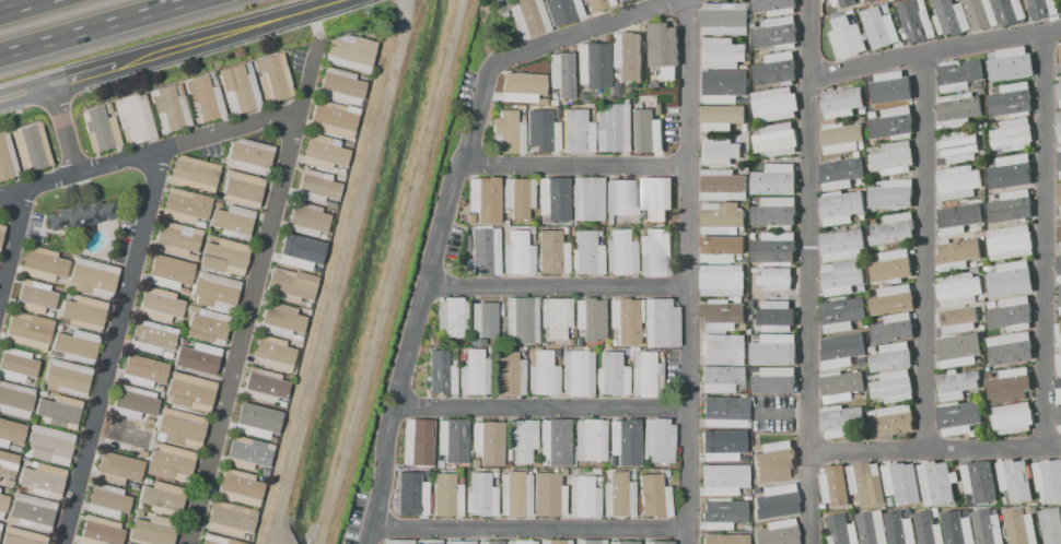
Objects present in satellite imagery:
building: (861, 0)
building: (919, 0)
building: (622, 1)
building: (871, 1)
building: (844, 3)
building: (597, 4)
building: (773, 7)
road: (26, 8)
building: (1041, 8)
building: (564, 11)
building: (1008, 11)
building: (850, 13)
building: (980, 14)
building: (949, 16)
building: (529, 17)
building: (725, 19)
building: (760, 19)
building: (916, 22)
building: (753, 25)
road: (101, 28)
building: (882, 29)
road: (584, 31)
building: (777, 33)
road: (233, 34)
building: (846, 37)
building: (663, 48)
building: (1060, 49)
building: (351, 52)
building: (722, 52)
building: (755, 52)
road: (934, 52)
building: (627, 56)
building: (1010, 63)
building: (744, 67)
building: (248, 68)
building: (593, 69)
building: (776, 69)
building: (562, 74)
building: (957, 74)
road: (82, 76)
building: (615, 76)
building: (273, 78)
building: (213, 83)
building: (654, 84)
building: (977, 84)
building: (520, 86)
building: (724, 86)
building: (1059, 86)
building: (342, 87)
building: (889, 87)
building: (178, 90)
building: (238, 90)
building: (994, 90)
road: (25, 93)
building: (202, 99)
building: (1010, 100)
building: (840, 102)
building: (553, 103)
building: (774, 104)
building: (107, 109)
building: (168, 109)
building: (657, 109)
building: (958, 109)
building: (522, 110)
building: (556, 110)
building: (862, 110)
building: (871, 115)
building: (721, 117)
building: (135, 119)
building: (334, 119)
building: (893, 122)
building: (986, 123)
building: (1059, 126)
building: (614, 128)
building: (745, 128)
building: (100, 129)
building: (753, 130)
road: (65, 131)
building: (576, 131)
building: (543, 132)
building: (644, 132)
building: (508, 133)
building: (1012, 134)
building: (840, 137)
building: (776, 139)
building: (861, 144)
building: (957, 146)
building: (32, 147)
building: (872, 149)
building: (720, 151)
building: (323, 152)
building: (982, 153)
road: (151, 156)
building: (248, 157)
building: (7, 158)
building: (893, 158)
building: (992, 159)
building: (1059, 159)
road: (576, 164)
building: (761, 167)
building: (1011, 169)
building: (341, 172)
building: (840, 173)
building: (193, 175)
building: (773, 179)
building: (957, 181)
building: (859, 182)
building: (722, 184)
building: (878, 184)
building: (316, 187)
building: (241, 189)
building: (981, 191)
building: (891, 194)
building: (1060, 194)
building: (656, 197)
building: (992, 197)
building: (485, 198)
building: (518, 198)
building: (621, 199)
building: (553, 200)
building: (587, 200)
building: (329, 204)
building: (185, 206)
building: (840, 206)
building: (1010, 206)
building: (774, 213)
building: (78, 215)
building: (863, 217)
building: (723, 218)
building: (957, 218)
building: (306, 221)
building: (874, 221)
building: (232, 222)
building: (470, 223)
building: (505, 223)
building: (198, 224)
building: (642, 224)
building: (1060, 226)
building: (977, 227)
building: (893, 229)
building: (530, 230)
building: (1, 232)
building: (564, 232)
building: (598, 234)
building: (754, 235)
building: (322, 238)
building: (465, 238)
building: (176, 241)
building: (1010, 241)
road: (1046, 241)
building: (842, 245)
road: (14, 246)
building: (722, 247)
building: (774, 247)
building: (485, 250)
building: (654, 251)
building: (518, 253)
building: (552, 253)
building: (585, 253)
building: (620, 253)
road: (926, 253)
building: (299, 255)
building: (957, 255)
building: (224, 257)
building: (875, 257)
building: (745, 259)
building: (981, 263)
building: (42, 264)
building: (1059, 265)
building: (891, 267)
building: (988, 269)
building: (755, 270)
building: (976, 270)
road: (688, 271)
road: (809, 271)
road: (339, 272)
building: (168, 273)
building: (841, 276)
building: (92, 277)
building: (774, 279)
building: (1010, 279)
building: (722, 280)
building: (290, 287)
road: (557, 288)
building: (862, 289)
building: (958, 289)
building: (215, 293)
road: (256, 294)
building: (986, 294)
building: (68, 296)
building: (1059, 297)
building: (35, 298)
road: (421, 299)
building: (891, 299)
building: (751, 303)
building: (991, 304)
building: (159, 305)
building: (306, 305)
building: (750, 309)
building: (83, 312)
building: (49, 314)
building: (841, 314)
building: (1011, 314)
building: (721, 315)
building: (776, 316)
building: (450, 317)
building: (555, 317)
building: (521, 320)
building: (956, 320)
building: (282, 321)
building: (483, 321)
building: (593, 321)
building: (625, 321)
building: (658, 323)
building: (865, 324)
building: (206, 326)
building: (57, 327)
building: (744, 327)
building: (982, 328)
building: (893, 329)
building: (27, 331)
building: (1059, 332)
building: (153, 339)
building: (478, 343)
building: (613, 343)
building: (75, 345)
building: (754, 345)
road: (114, 348)
building: (777, 348)
building: (1010, 348)
building: (452, 350)
building: (488, 350)
building: (724, 350)
building: (873, 350)
building: (956, 350)
building: (842, 351)
building: (523, 352)
building: (623, 352)
building: (629, 353)
building: (272, 354)
building: (556, 354)
building: (660, 355)
building: (890, 356)
building: (198, 358)
building: (980, 359)
building: (975, 362)
building: (1058, 363)
building: (16, 365)
building: (750, 368)
building: (758, 369)
building: (143, 372)
building: (441, 372)
building: (474, 374)
building: (576, 374)
building: (508, 375)
building: (543, 375)
building: (611, 375)
building: (645, 375)
building: (989, 375)
building: (873, 376)
building: (868, 377)
building: (67, 378)
building: (721, 379)
building: (774, 381)
building: (957, 383)
building: (841, 385)
building: (1010, 385)
building: (893, 386)
building: (265, 387)
building: (745, 388)
building: (158, 389)
building: (1058, 389)
building: (190, 393)
building: (859, 397)
building: (15, 400)
building: (133, 402)
building: (280, 404)
road: (541, 409)
building: (58, 411)
building: (987, 411)
building: (724, 413)
building: (872, 413)
building: (1058, 414)
building: (958, 416)
building: (1012, 417)
building: (254, 419)
building: (840, 421)
building: (891, 421)
building: (179, 427)
building: (10, 433)
building: (973, 434)
building: (124, 435)
building: (269, 437)
building: (521, 439)
building: (623, 439)
building: (452, 440)
building: (590, 440)
building: (657, 440)
building: (556, 441)
building: (417, 442)
building: (488, 442)
building: (48, 446)
building: (719, 446)
building: (754, 447)
road: (935, 452)
building: (247, 453)
building: (142, 454)
building: (739, 459)
building: (773, 461)
building: (610, 462)
building: (171, 463)
building: (508, 463)
building: (439, 464)
building: (474, 464)
building: (541, 464)
building: (7, 469)
building: (116, 469)
building: (562, 472)
building: (265, 473)
building: (666, 474)
building: (631, 476)
building: (494, 477)
building: (1049, 478)
building: (1015, 480)
building: (43, 481)
building: (145, 481)
building: (459, 481)
building: (720, 481)
building: (980, 482)
building: (597, 483)
building: (866, 483)
building: (898, 483)
building: (935, 483)
building: (835, 486)
building: (133, 487)
building: (240, 487)
building: (754, 492)
building: (514, 494)
building: (742, 494)
building: (444, 495)
building: (548, 495)
building: (412, 496)
building: (480, 496)
building: (618, 496)
building: (653, 496)
building: (582, 497)
building: (163, 498)
building: (747, 499)
building: (1041, 500)
building: (107, 501)
building: (773, 502)
building: (889, 502)
building: (970, 505)
building: (2, 506)
building: (823, 506)
building: (966, 509)
building: (1028, 509)
building: (993, 510)
building: (32, 512)
building: (935, 512)
building: (722, 513)
building: (907, 513)
building: (139, 515)
building: (850, 517)
building: (230, 519)
building: (0, 524)
building: (1051, 525)
building: (738, 527)
building: (987, 527)
building: (1019, 527)
building: (872, 528)
building: (957, 528)
road: (532, 529)
building: (746, 529)
building: (900, 529)
building: (928, 529)
building: (152, 530)
building: (840, 530)
building: (101, 531)
building: (774, 533)
building: (20, 537)
building: (217, 540)
building: (724, 540)
building: (397, 542)
building: (429, 542)
building: (459, 542)
building: (490, 542)
building: (555, 542)
building: (590, 542)
building: (656, 542)
building: (521, 543)
building: (625, 543)

